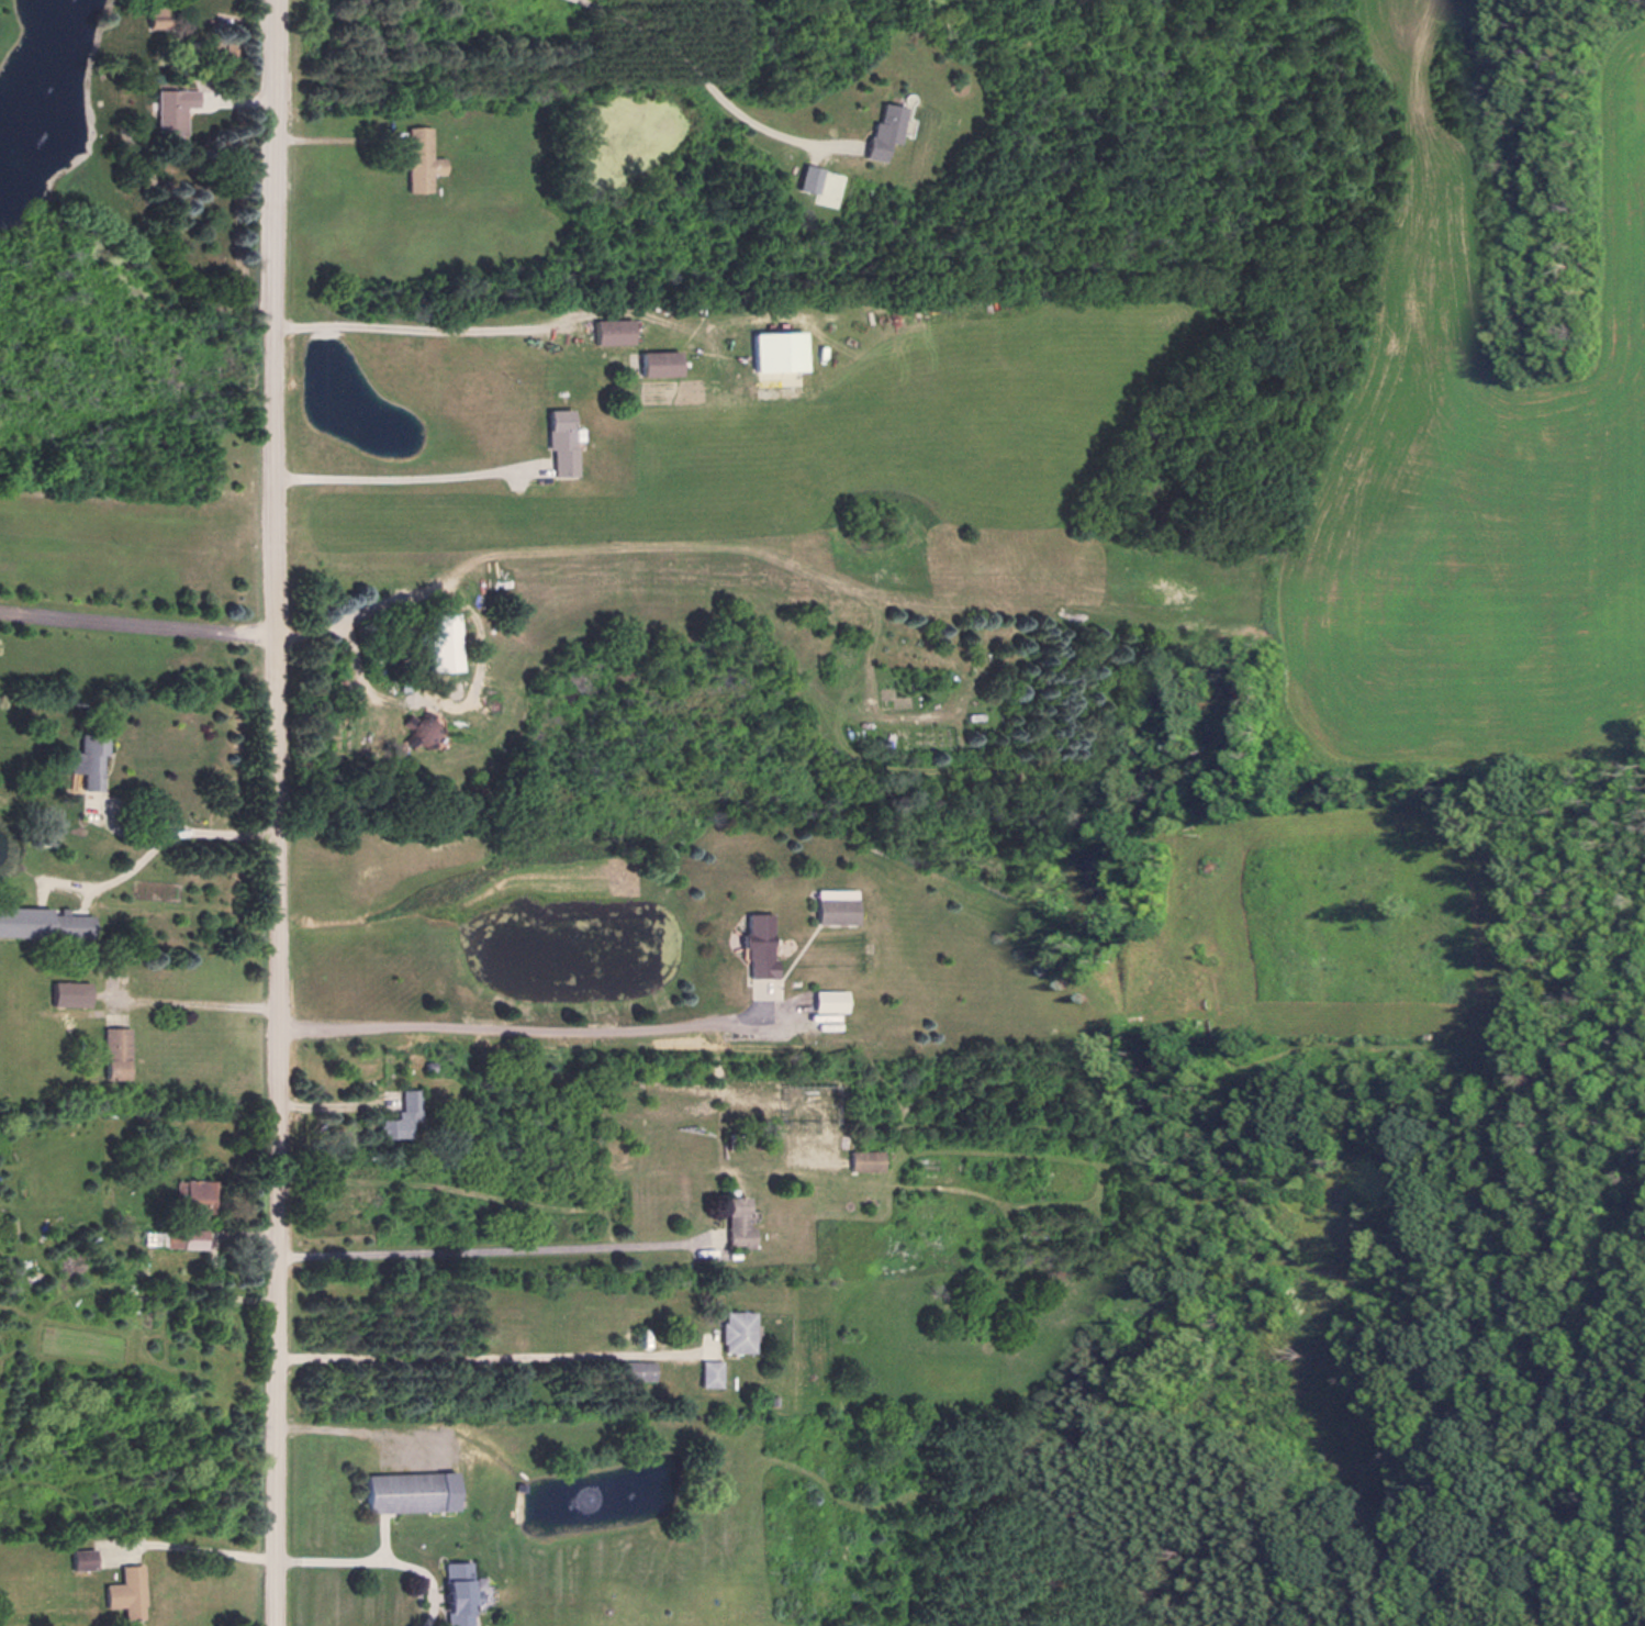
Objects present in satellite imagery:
road: (695, 70)
building: (168, 108)
building: (876, 129)
building: (415, 158)
road: (412, 325)
building: (606, 331)
building: (651, 364)
building: (557, 441)
road: (400, 475)
road: (136, 621)
building: (89, 758)
road: (278, 812)
road: (154, 833)
building: (829, 906)
building: (72, 924)
building: (751, 945)
building: (75, 992)
road: (195, 1001)
road: (535, 1025)
building: (119, 1053)
building: (406, 1106)
building: (859, 1160)
building: (200, 1188)
building: (730, 1222)
road: (494, 1248)
building: (730, 1332)
road: (493, 1354)
building: (634, 1370)
building: (702, 1372)
building: (399, 1492)
road: (382, 1557)
building: (76, 1558)
building: (121, 1592)
building: (450, 1593)

